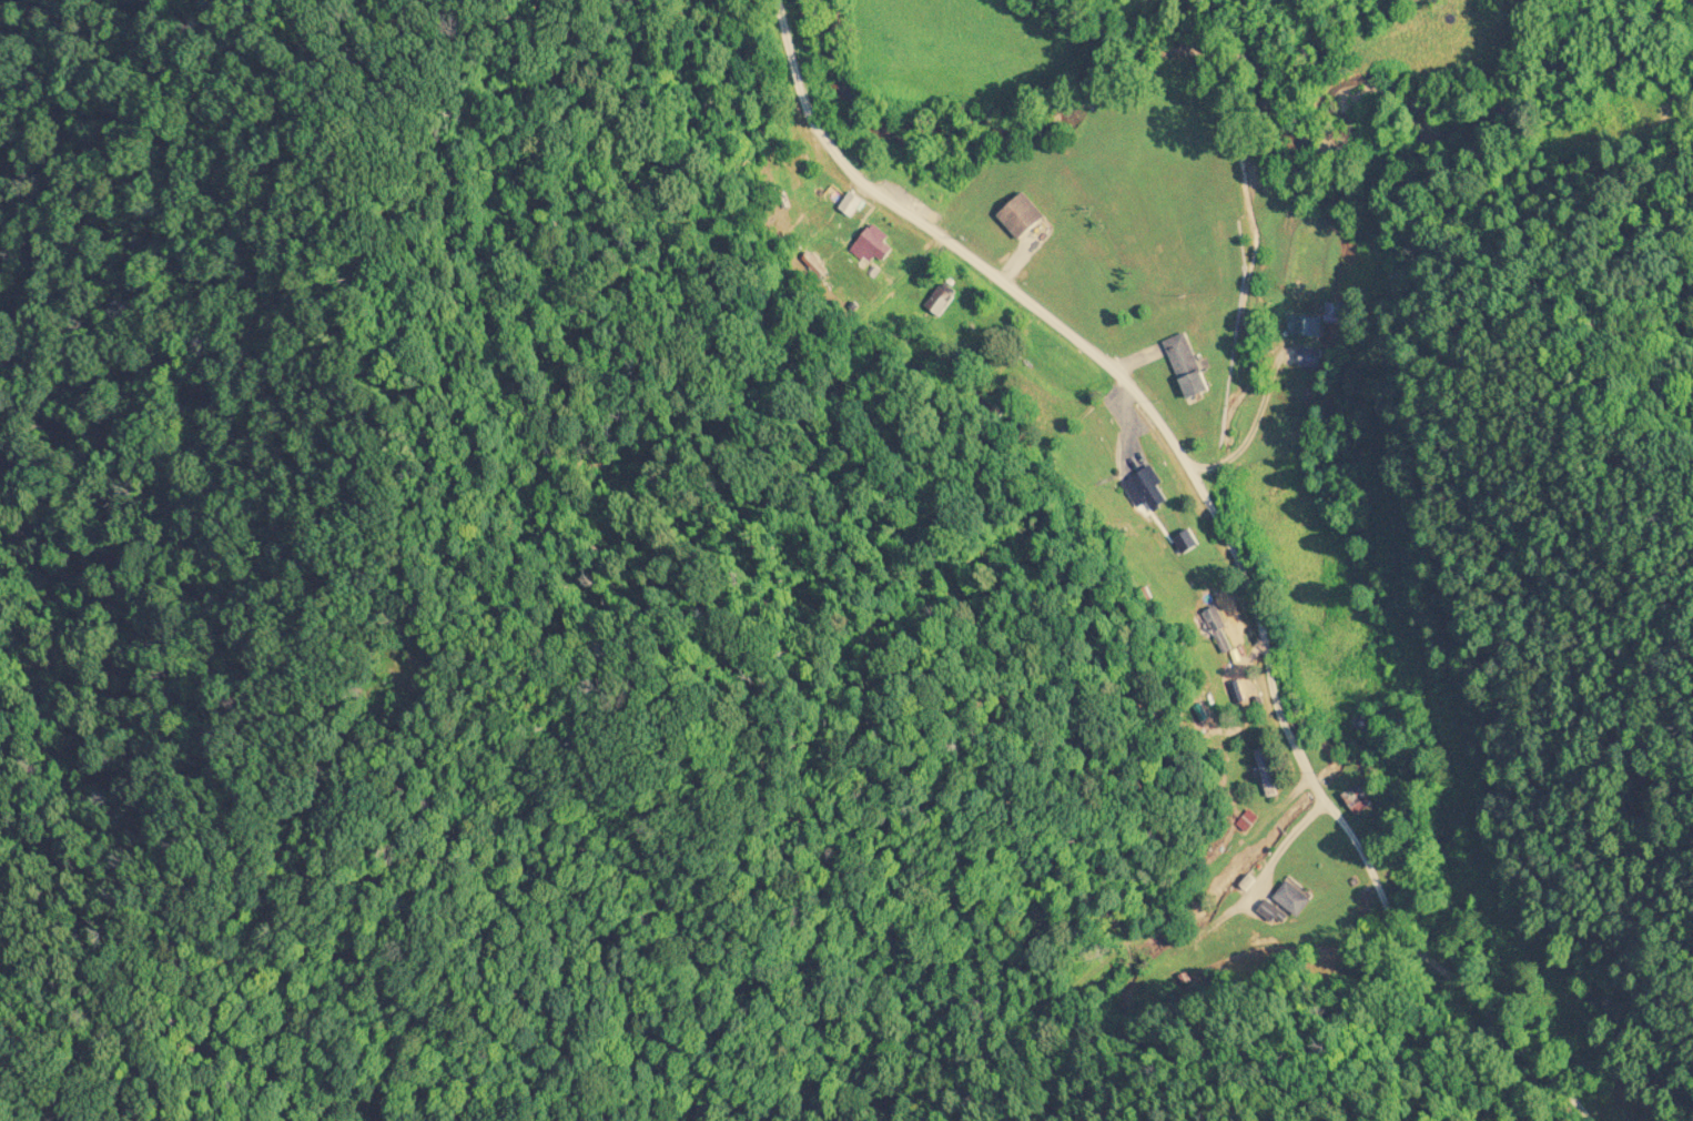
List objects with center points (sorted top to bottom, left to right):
building: (851, 204)
building: (1022, 216)
building: (1331, 313)
building: (1302, 326)
building: (1307, 357)
building: (1188, 366)
building: (1152, 489)
road: (1214, 529)
building: (1362, 719)
building: (1265, 774)

